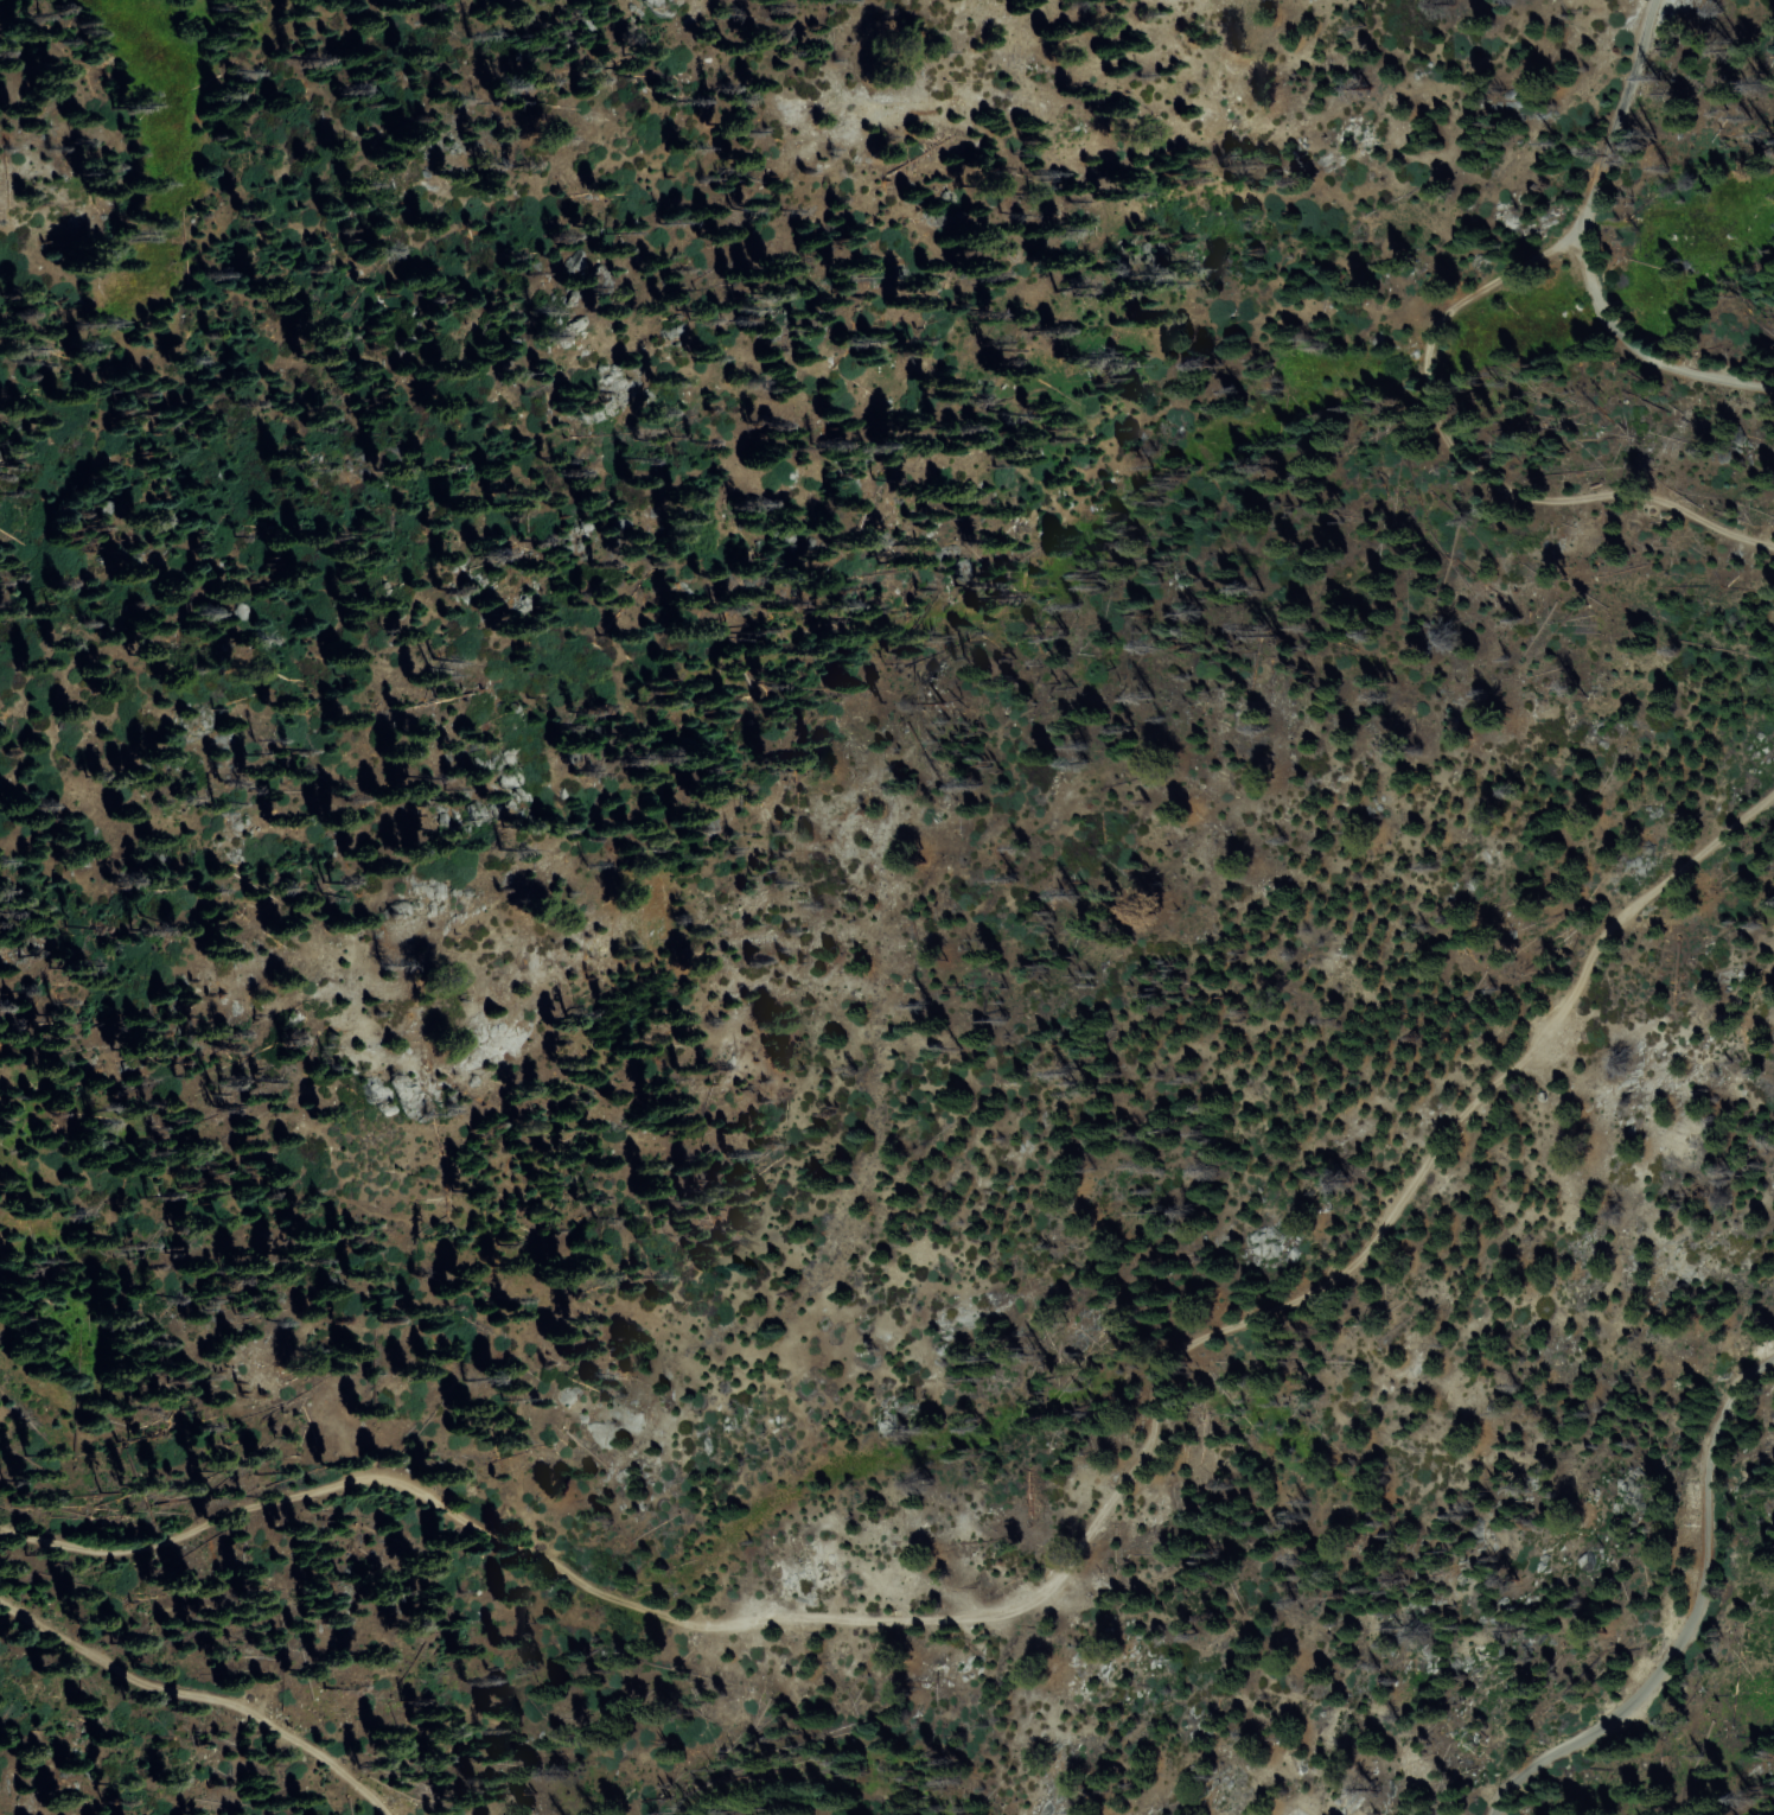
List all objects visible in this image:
road: (1580, 247)
road: (1478, 463)
road: (1047, 1586)
road: (1689, 1618)
road: (196, 1699)

